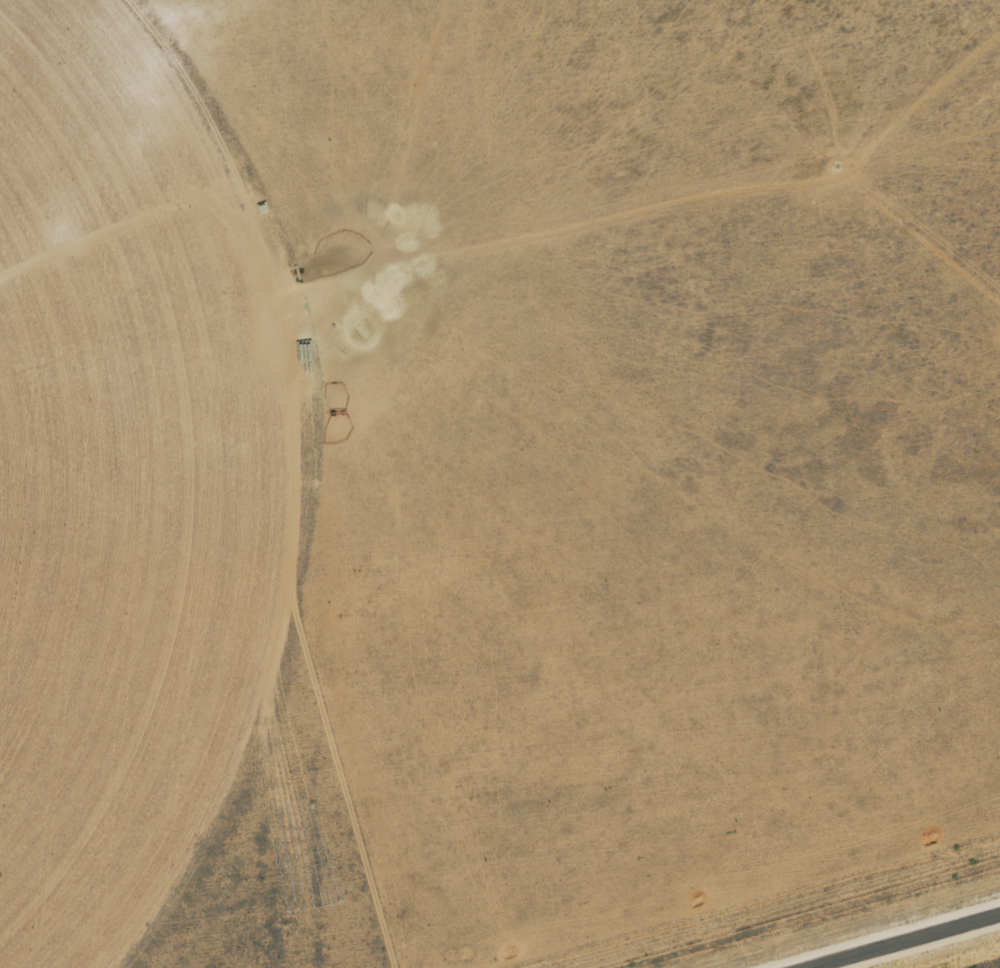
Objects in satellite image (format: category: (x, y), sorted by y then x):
road: (904, 940)

